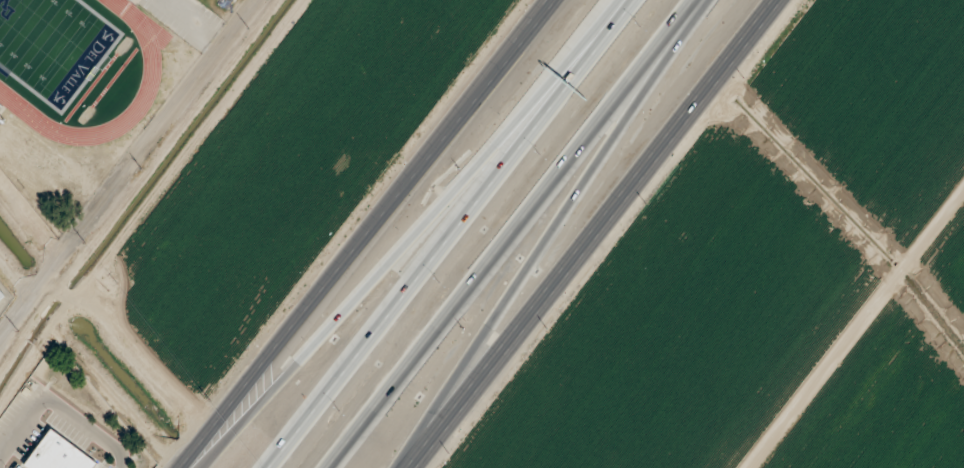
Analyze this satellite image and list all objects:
parking lot: (186, 20)
road: (193, 22)
park: (51, 44)
track: (150, 70)
stadium: (78, 93)
road: (128, 164)
road: (558, 232)
road: (420, 233)
road: (594, 233)
road: (369, 234)
road: (458, 234)
road: (517, 234)
building: (0, 296)
road: (858, 333)
building: (57, 453)

